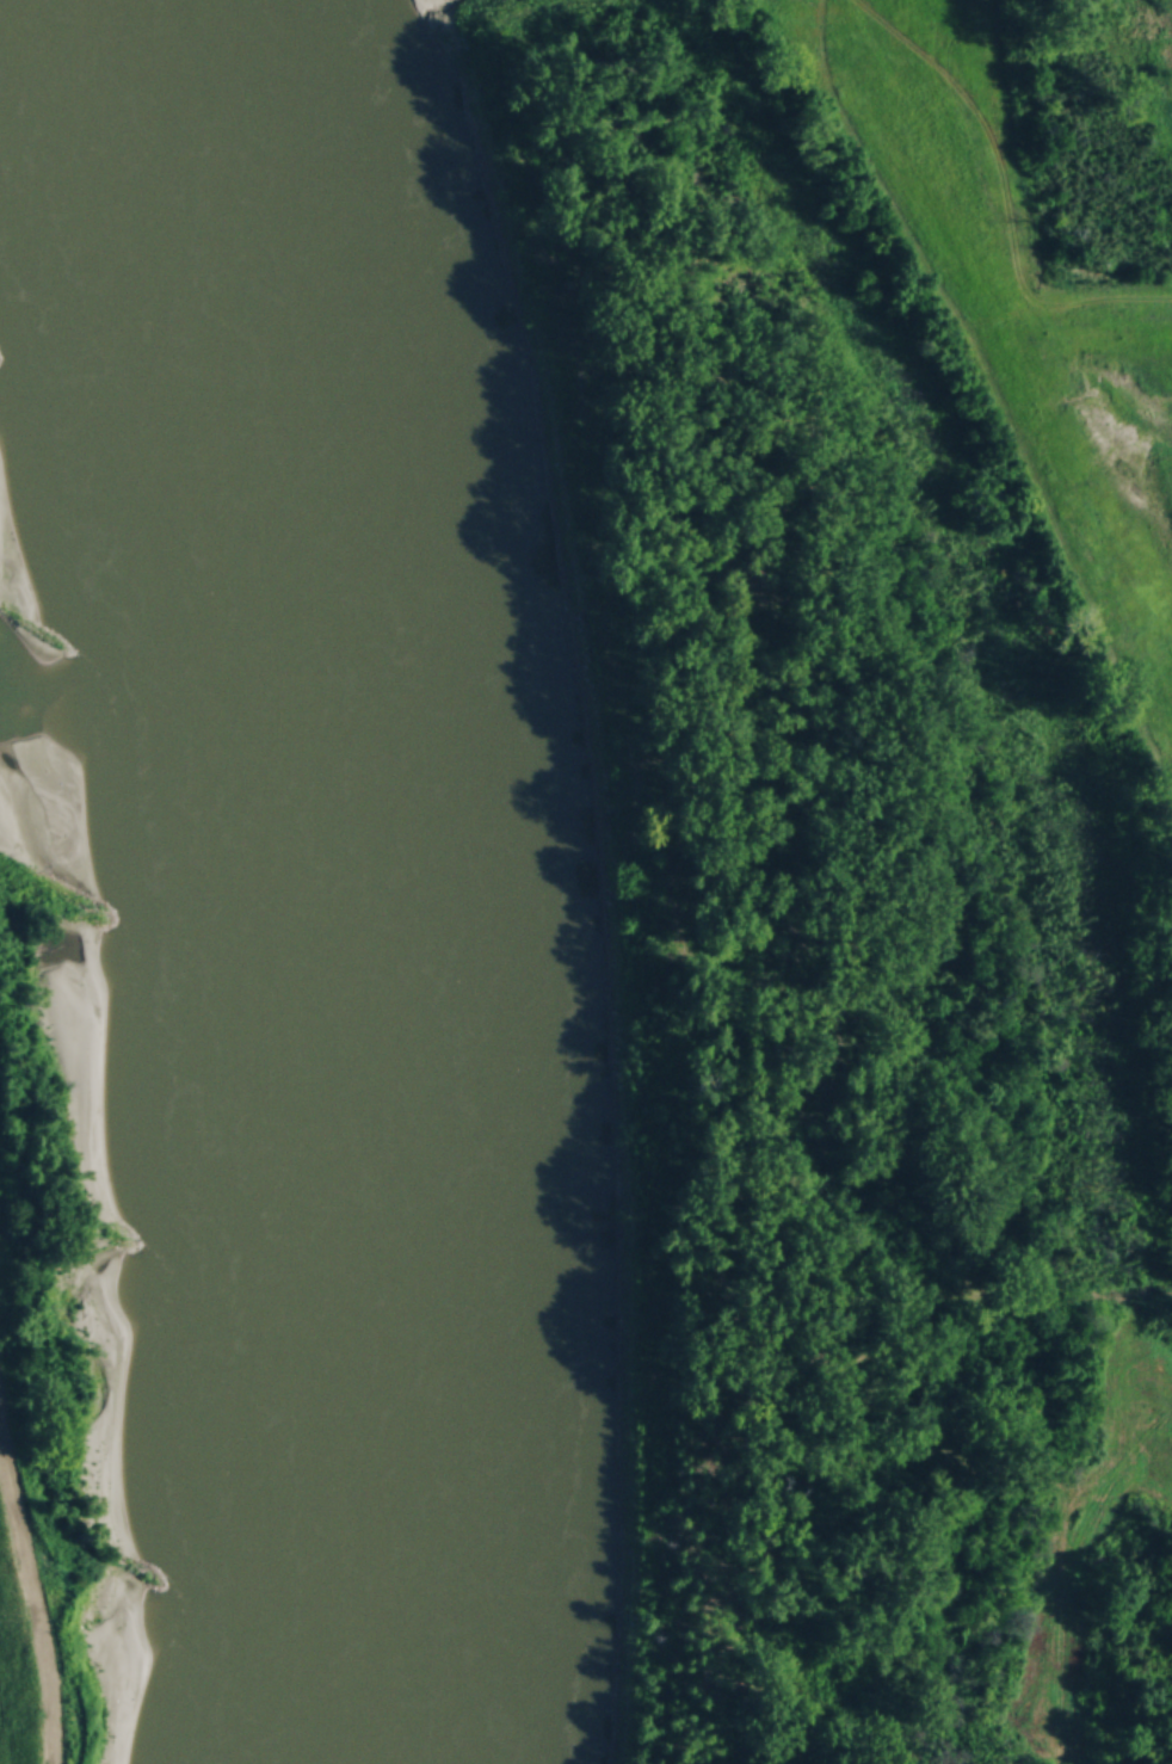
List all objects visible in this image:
river: (341, 864)
road: (42, 1584)

